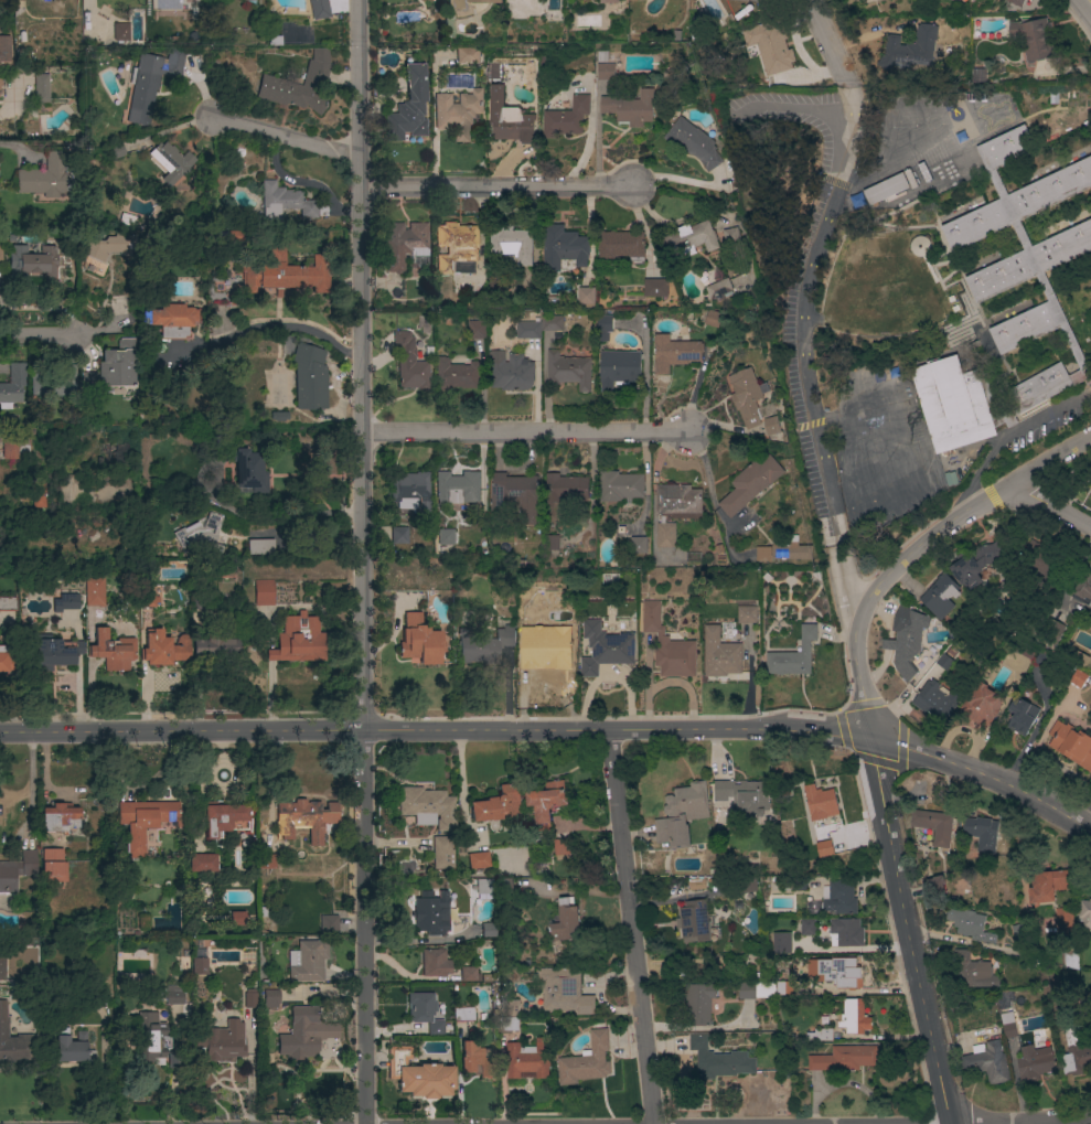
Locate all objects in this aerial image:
building: (607, 1)
building: (248, 2)
building: (1017, 2)
building: (456, 8)
road: (811, 8)
building: (319, 9)
road: (1084, 10)
building: (449, 29)
building: (121, 33)
building: (1034, 39)
building: (770, 45)
building: (910, 49)
road: (827, 50)
building: (468, 55)
building: (606, 71)
building: (1, 82)
building: (151, 82)
building: (299, 85)
building: (42, 88)
building: (0, 89)
building: (0, 94)
road: (7, 107)
building: (409, 107)
building: (630, 107)
building: (458, 114)
building: (566, 117)
building: (509, 119)
building: (1050, 125)
building: (694, 142)
road: (13, 144)
building: (116, 151)
building: (170, 162)
road: (889, 162)
building: (965, 164)
building: (49, 176)
road: (413, 186)
building: (886, 189)
building: (288, 203)
building: (127, 218)
building: (227, 236)
building: (731, 236)
building: (692, 238)
building: (512, 243)
building: (404, 244)
building: (456, 245)
building: (622, 245)
building: (103, 246)
building: (918, 246)
building: (564, 247)
building: (1, 251)
building: (32, 263)
building: (286, 274)
building: (655, 288)
building: (495, 289)
building: (720, 289)
building: (987, 289)
building: (586, 296)
building: (712, 319)
building: (170, 320)
road: (275, 327)
building: (538, 327)
building: (605, 327)
building: (477, 329)
road: (35, 334)
road: (798, 350)
building: (674, 353)
building: (409, 363)
road: (360, 364)
building: (619, 368)
building: (111, 370)
building: (568, 370)
building: (510, 371)
building: (456, 374)
building: (309, 377)
building: (54, 383)
building: (13, 384)
building: (748, 397)
building: (279, 416)
road: (1029, 422)
building: (772, 426)
road: (524, 432)
building: (15, 449)
building: (115, 456)
building: (249, 471)
building: (749, 484)
building: (620, 485)
building: (458, 488)
building: (566, 488)
road: (972, 490)
building: (410, 492)
building: (515, 494)
building: (39, 495)
building: (678, 501)
road: (1052, 506)
road: (959, 516)
building: (665, 534)
building: (398, 535)
building: (200, 536)
building: (446, 537)
building: (259, 545)
building: (638, 545)
building: (549, 547)
building: (791, 552)
building: (763, 553)
building: (976, 567)
building: (1081, 590)
building: (264, 592)
building: (939, 593)
building: (95, 597)
building: (148, 600)
building: (69, 601)
building: (8, 604)
building: (747, 614)
building: (298, 640)
building: (906, 640)
building: (419, 641)
building: (666, 643)
building: (215, 645)
building: (483, 645)
building: (605, 647)
building: (164, 649)
building: (110, 651)
building: (52, 653)
building: (545, 654)
building: (719, 654)
building: (793, 655)
building: (3, 660)
road: (858, 673)
building: (1077, 678)
building: (934, 700)
building: (984, 707)
building: (1020, 719)
road: (434, 730)
building: (1070, 745)
road: (982, 772)
road: (29, 783)
building: (744, 793)
building: (546, 799)
building: (820, 801)
building: (495, 803)
building: (427, 806)
building: (682, 813)
building: (60, 818)
building: (304, 818)
building: (224, 820)
building: (145, 822)
building: (932, 823)
building: (981, 831)
building: (824, 847)
building: (561, 848)
building: (442, 852)
building: (478, 859)
building: (266, 861)
building: (203, 863)
building: (53, 866)
building: (17, 871)
building: (1046, 884)
building: (696, 885)
building: (483, 888)
building: (505, 888)
building: (935, 888)
building: (839, 897)
building: (430, 912)
building: (1084, 912)
building: (1063, 917)
building: (236, 919)
building: (566, 922)
building: (693, 922)
road: (908, 923)
building: (329, 924)
building: (807, 925)
road: (364, 927)
road: (630, 927)
building: (971, 928)
building: (846, 930)
building: (486, 931)
building: (781, 941)
building: (308, 961)
building: (434, 962)
building: (2, 964)
building: (199, 966)
building: (836, 971)
building: (972, 972)
building: (469, 973)
building: (782, 986)
building: (746, 988)
building: (564, 989)
building: (174, 995)
building: (270, 998)
building: (248, 999)
building: (697, 1002)
building: (420, 1006)
building: (854, 1015)
building: (1009, 1028)
building: (300, 1035)
building: (151, 1039)
building: (220, 1039)
building: (13, 1041)
building: (73, 1048)
building: (844, 1057)
building: (718, 1058)
building: (1077, 1058)
building: (528, 1059)
building: (173, 1060)
building: (474, 1060)
building: (585, 1060)
building: (988, 1060)
building: (1035, 1060)
building: (417, 1074)
road: (1063, 1120)

